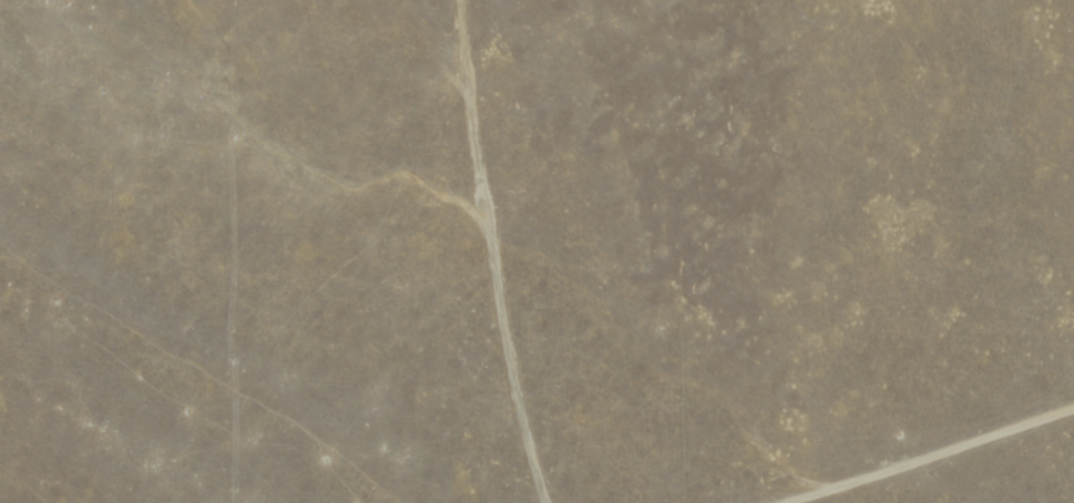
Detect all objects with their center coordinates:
road: (942, 461)

